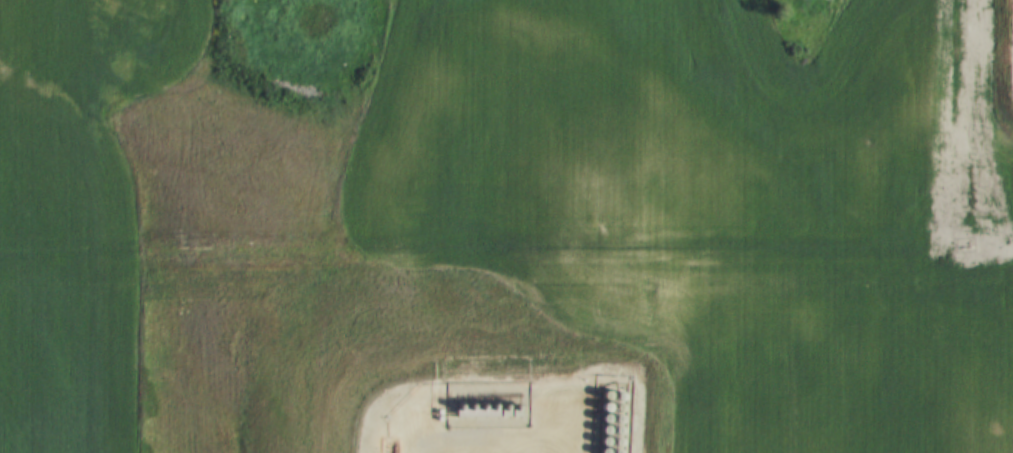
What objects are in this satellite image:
building: (598, 398)
storage tank: (598, 398)
building: (611, 399)
storage tank: (611, 399)
building: (509, 410)
storage tank: (509, 410)
building: (598, 410)
storage tank: (598, 410)
building: (463, 411)
storage tank: (463, 411)
building: (475, 411)
storage tank: (475, 411)
building: (487, 411)
storage tank: (487, 411)
building: (498, 411)
storage tank: (498, 411)
building: (611, 411)
storage tank: (611, 411)
building: (452, 413)
storage tank: (452, 413)
building: (597, 421)
storage tank: (597, 421)
building: (610, 422)
storage tank: (610, 422)
building: (597, 433)
storage tank: (597, 433)
building: (609, 434)
storage tank: (609, 434)
building: (596, 444)
storage tank: (596, 444)
building: (609, 445)
storage tank: (609, 445)
building: (596, 452)
storage tank: (596, 452)

